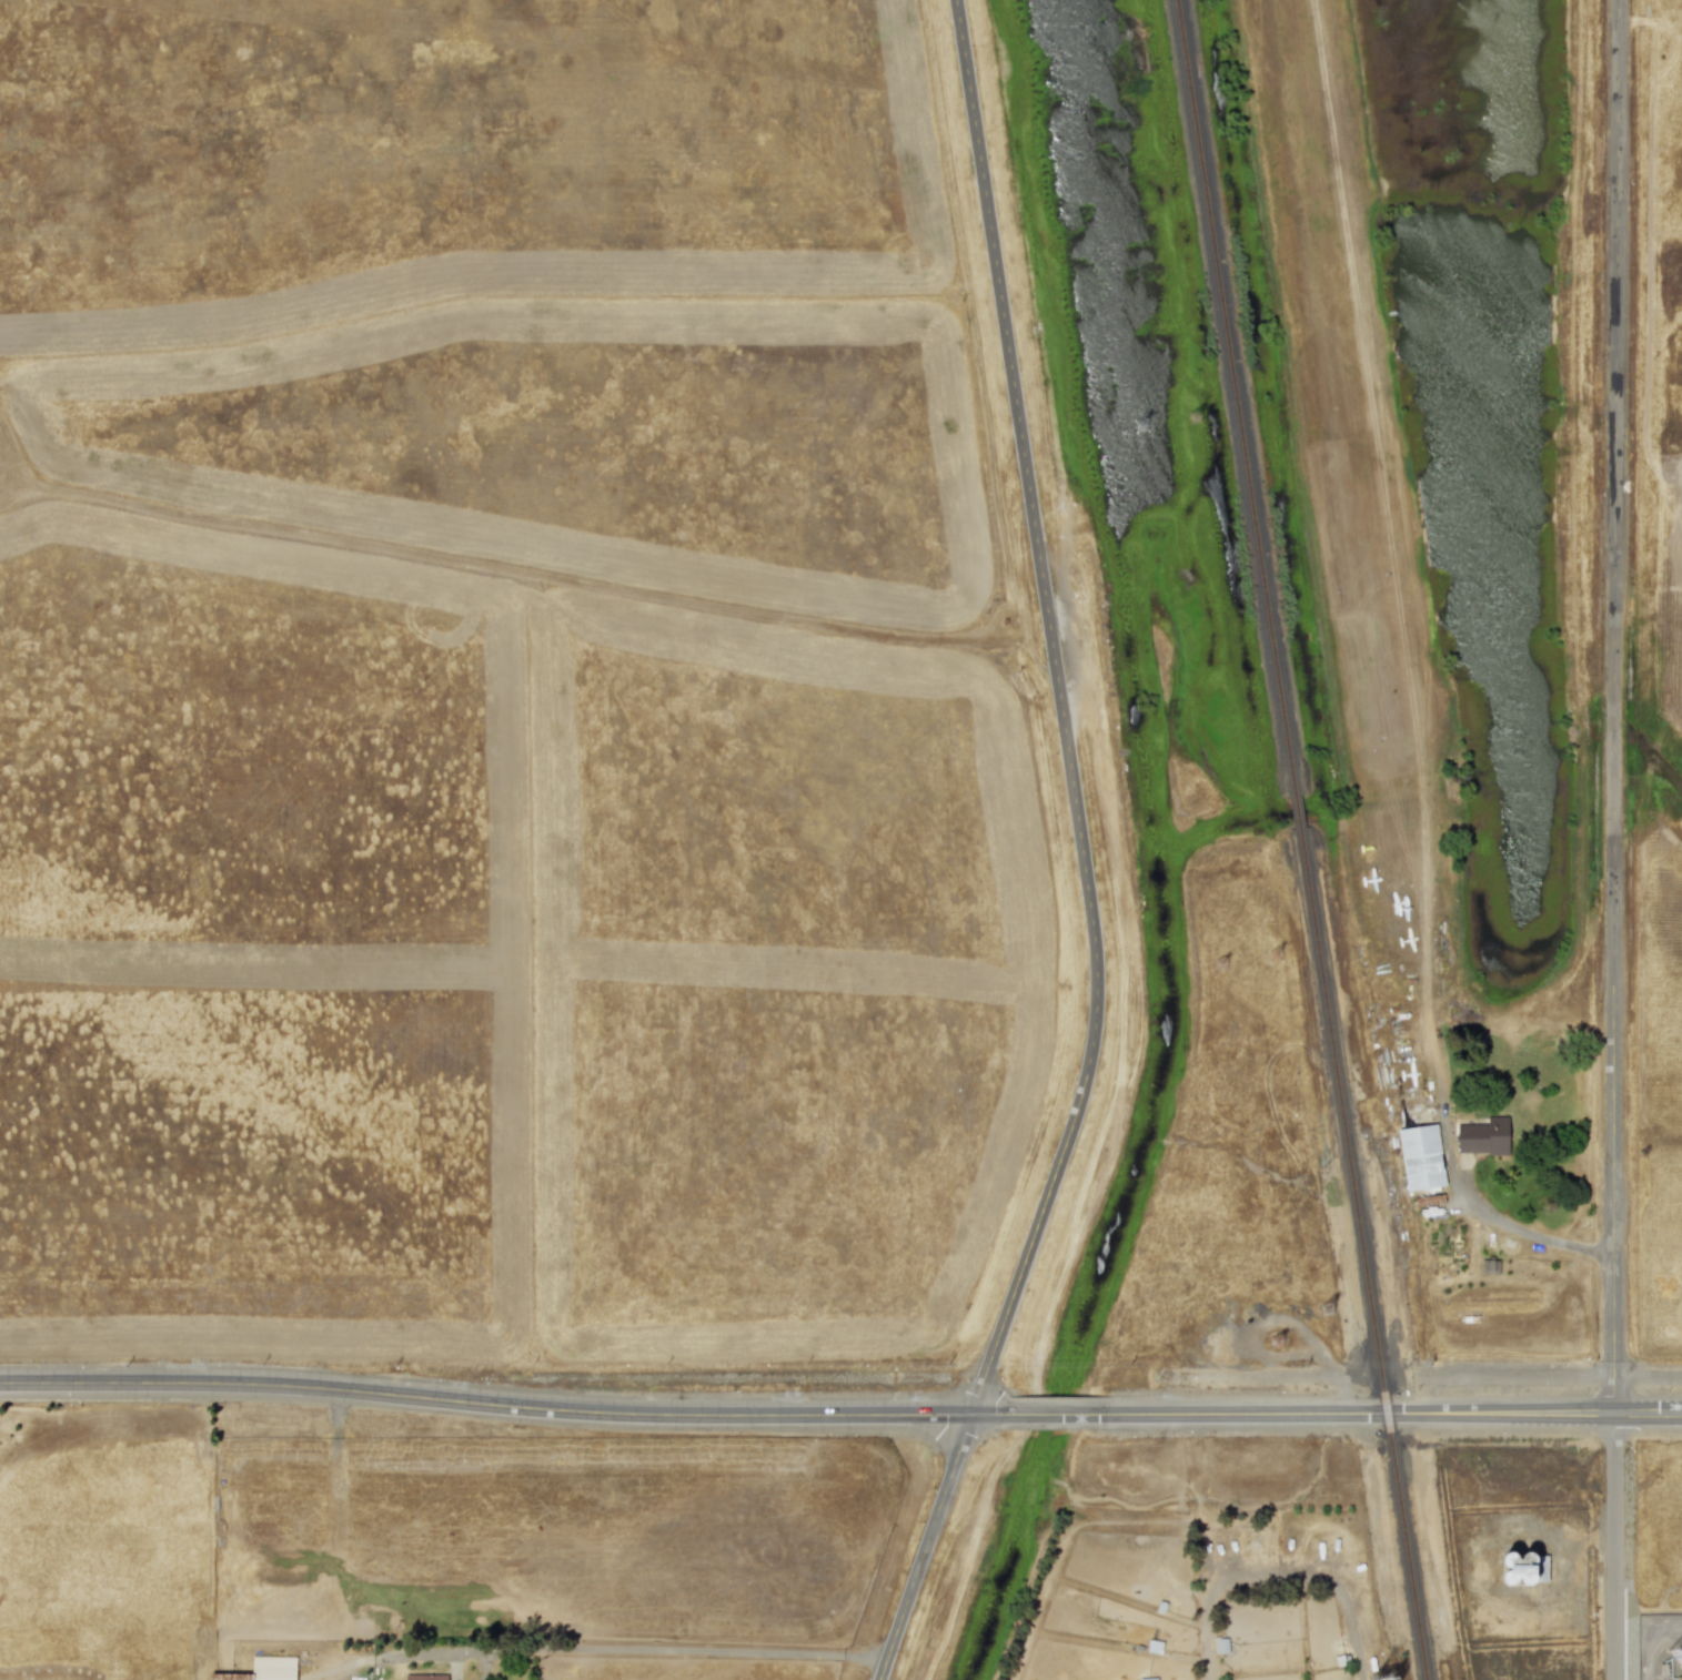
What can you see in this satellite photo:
railway: (1241, 399)
power tower: (1193, 419)
power tower: (1144, 427)
road: (1614, 707)
railway: (1303, 814)
road: (1080, 853)
power tower: (1276, 953)
power tower: (1223, 965)
building: (1482, 1136)
building: (1420, 1156)
road: (1524, 1232)
railway: (1368, 1255)
power tower: (1328, 1312)
power tower: (1278, 1344)
road: (1648, 1374)
road: (512, 1407)
road: (1396, 1415)
road: (1067, 1416)
road: (1613, 1547)
building: (1525, 1570)
road: (1277, 1582)
road: (666, 1649)
building: (263, 1669)
building: (425, 1677)

